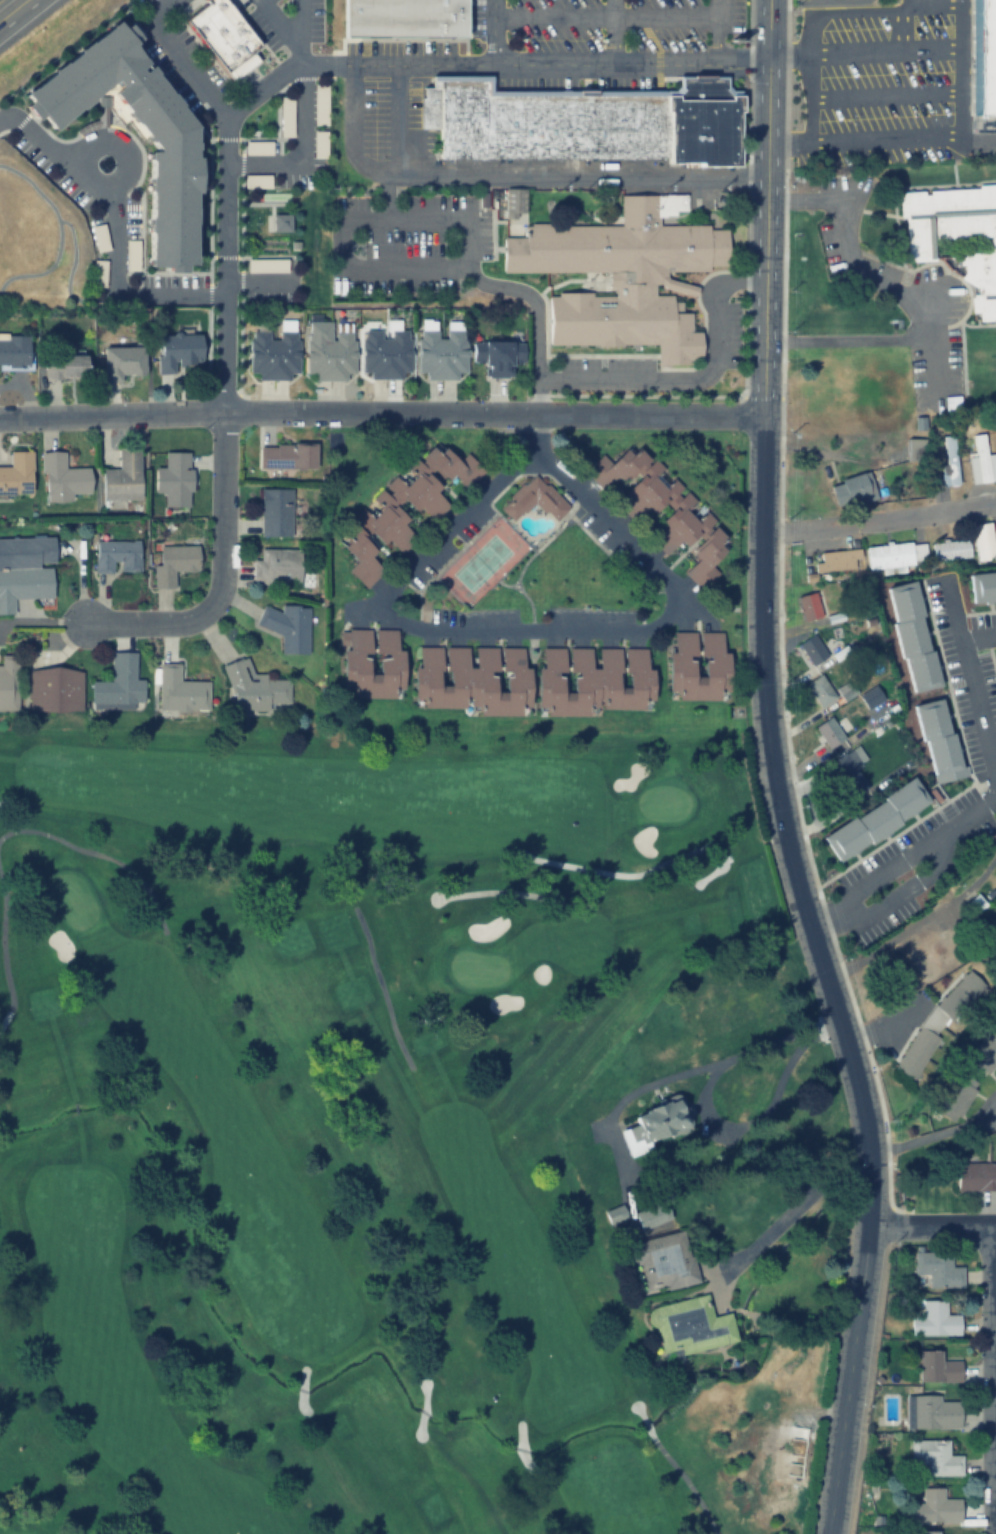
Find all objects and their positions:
road: (940, 7)
road: (17, 13)
road: (619, 14)
building: (407, 16)
road: (911, 25)
road: (969, 25)
road: (765, 29)
parking lot: (628, 30)
road: (821, 30)
road: (496, 31)
road: (614, 31)
building: (223, 36)
building: (985, 56)
road: (630, 61)
parking lot: (880, 82)
road: (969, 93)
road: (895, 94)
building: (585, 121)
building: (174, 147)
road: (512, 176)
road: (219, 228)
park: (44, 235)
building: (955, 235)
building: (617, 273)
road: (470, 274)
road: (221, 350)
building: (14, 351)
building: (179, 351)
building: (330, 351)
building: (276, 352)
building: (443, 352)
building: (387, 353)
building: (499, 357)
building: (124, 362)
building: (66, 367)
road: (692, 380)
road: (381, 412)
building: (914, 450)
building: (288, 456)
building: (950, 460)
building: (981, 462)
building: (17, 475)
building: (124, 477)
building: (63, 479)
building: (175, 479)
building: (853, 489)
building: (535, 498)
building: (276, 512)
building: (392, 516)
building: (678, 516)
road: (878, 520)
building: (983, 541)
building: (951, 549)
building: (117, 556)
building: (894, 556)
building: (838, 560)
park: (480, 561)
building: (175, 564)
building: (278, 566)
building: (25, 570)
road: (225, 576)
building: (984, 585)
building: (809, 605)
building: (288, 626)
building: (914, 634)
building: (813, 648)
building: (391, 668)
building: (717, 670)
building: (532, 680)
building: (8, 683)
building: (119, 685)
building: (55, 690)
building: (256, 690)
building: (180, 691)
building: (821, 691)
building: (832, 731)
building: (940, 737)
building: (847, 774)
road: (779, 802)
building: (877, 818)
building: (995, 998)
building: (936, 1021)
building: (983, 1052)
building: (955, 1095)
building: (664, 1119)
park: (352, 1132)
building: (977, 1175)
road: (792, 1208)
building: (653, 1216)
road: (931, 1223)
building: (664, 1263)
building: (938, 1267)
building: (934, 1319)
building: (690, 1327)
building: (937, 1366)
road: (993, 1372)
building: (931, 1410)
building: (936, 1456)
building: (936, 1506)
building: (926, 1532)

